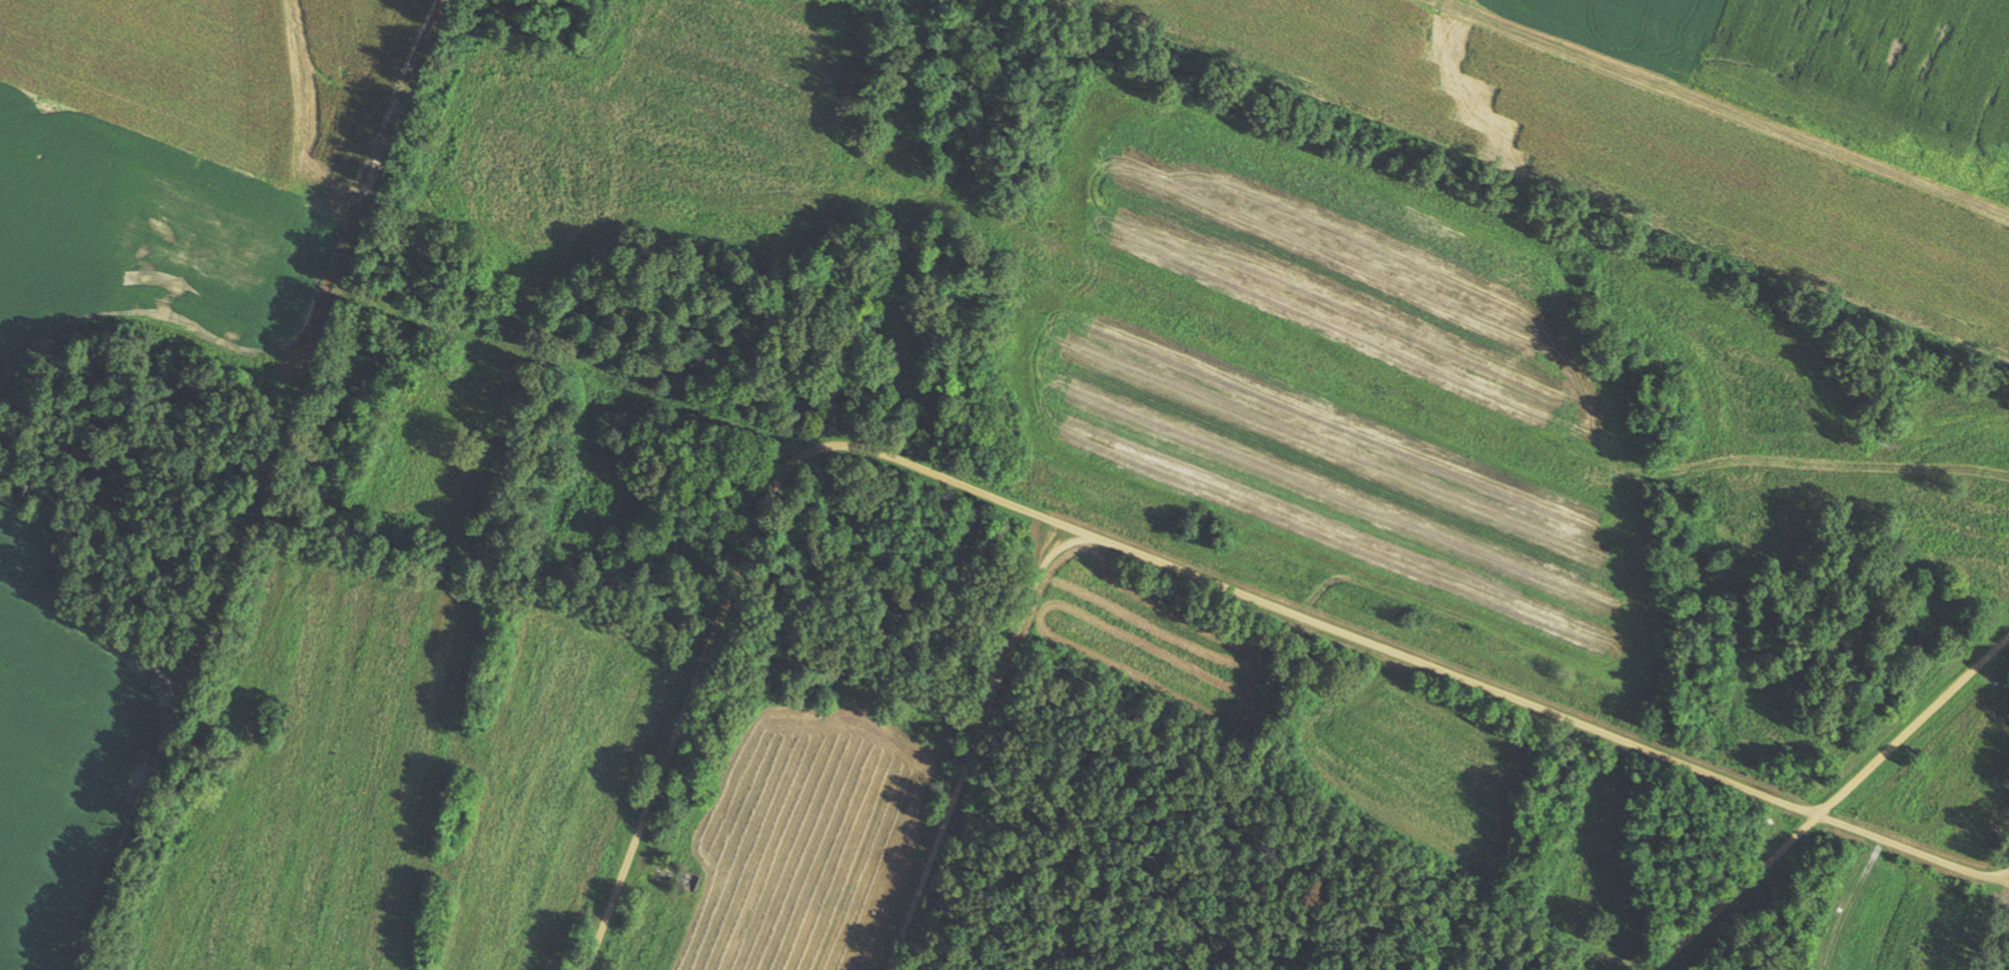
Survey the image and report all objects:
road: (1049, 516)
road: (1912, 726)
road: (974, 745)
road: (1228, 791)
road: (1534, 847)
road: (1868, 871)
road: (1734, 892)

